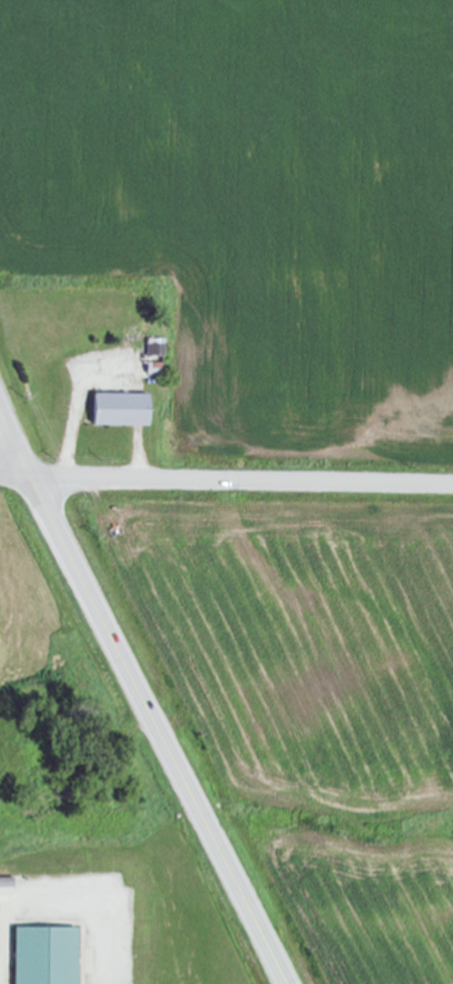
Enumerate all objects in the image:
building: (115, 409)
road: (138, 456)
road: (226, 478)
road: (141, 696)
road: (57, 898)
building: (40, 956)

